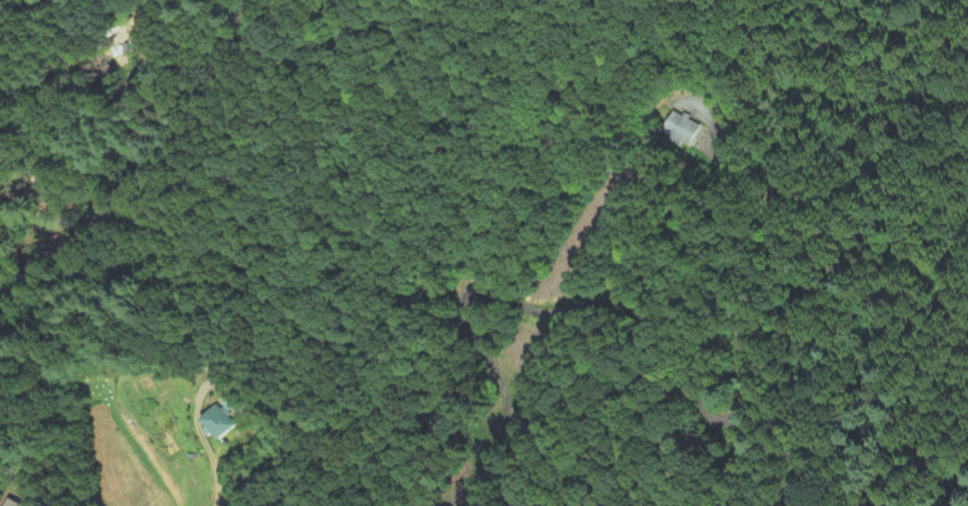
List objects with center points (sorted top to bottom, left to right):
building: (686, 130)
road: (641, 312)
building: (219, 424)
road: (201, 444)
building: (9, 503)

